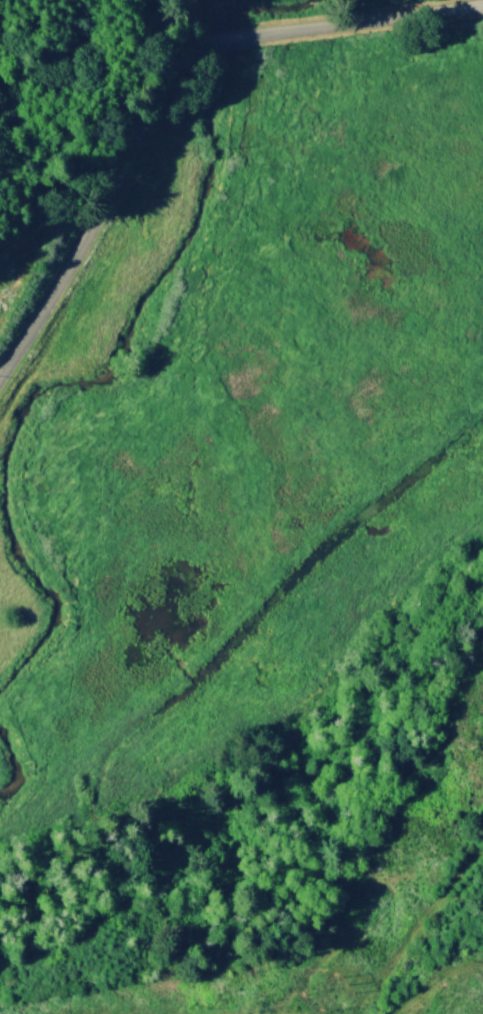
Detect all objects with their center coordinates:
road: (192, 22)
road: (170, 73)
power tower: (480, 706)
power tower: (335, 979)

